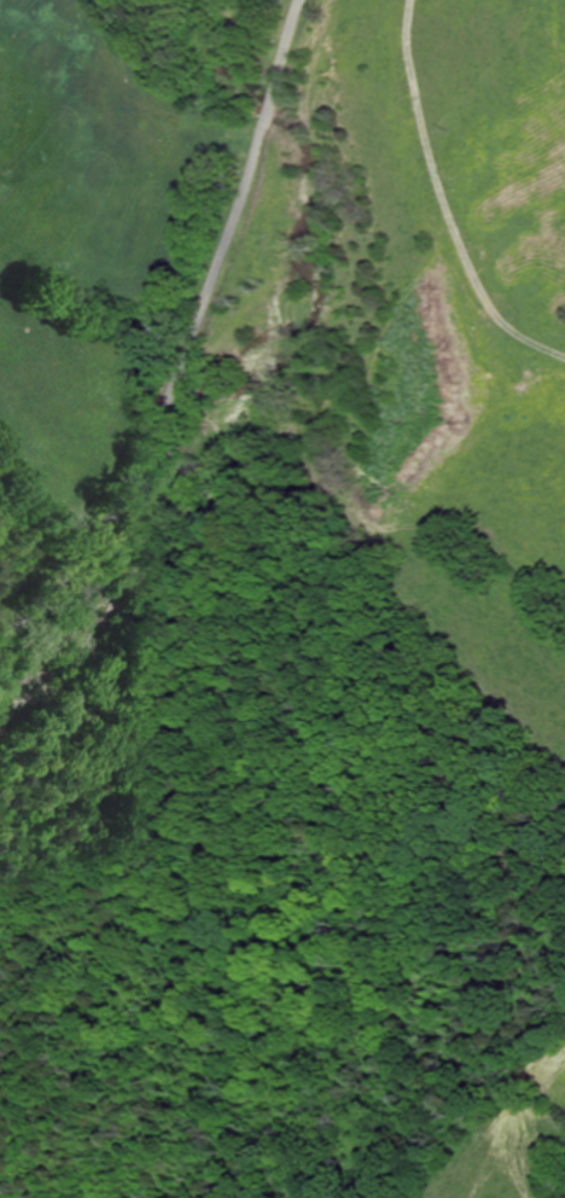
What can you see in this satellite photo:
road: (281, 37)
road: (264, 101)
road: (168, 403)

